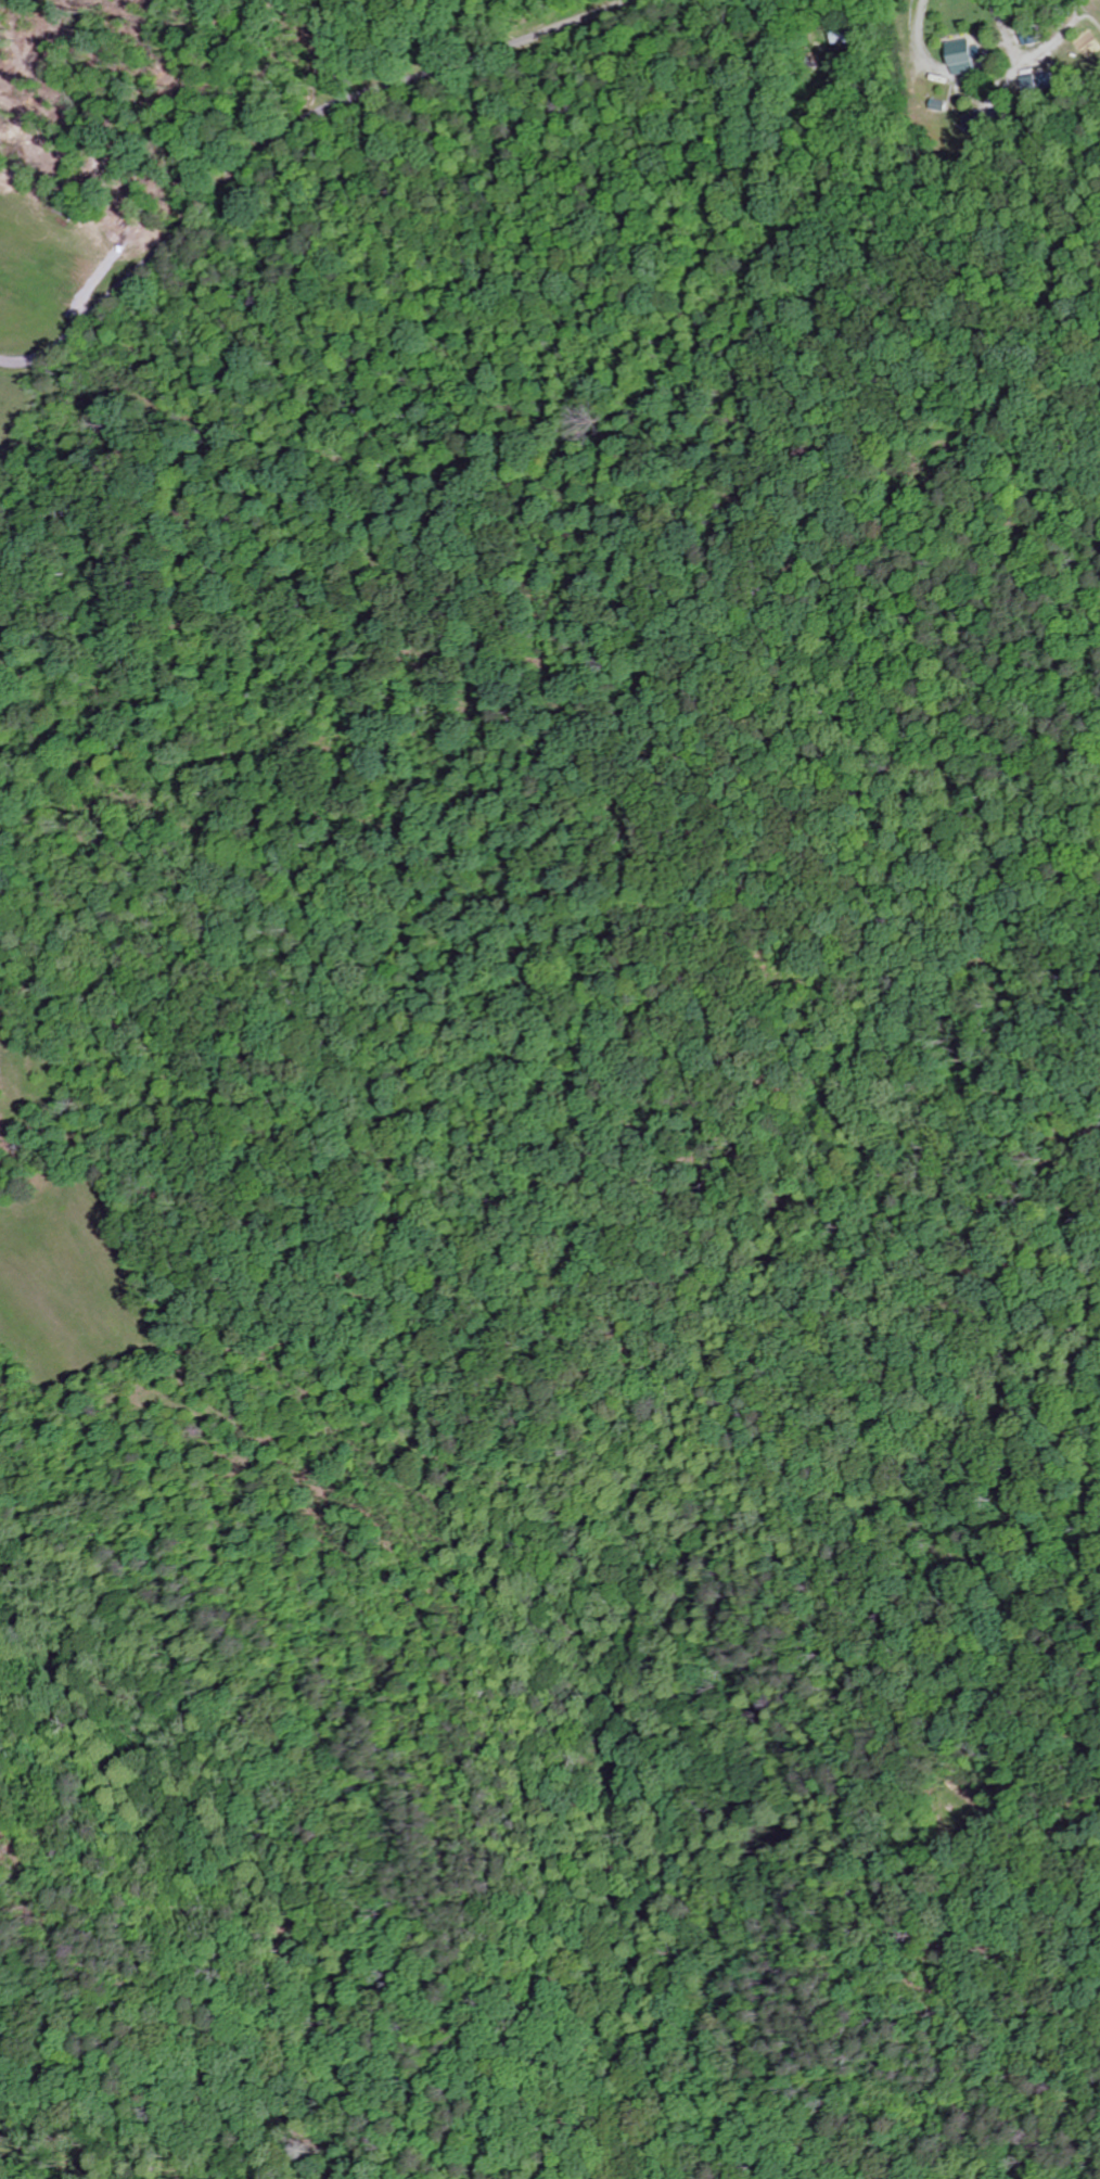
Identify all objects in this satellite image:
building: (958, 59)
road: (287, 138)

